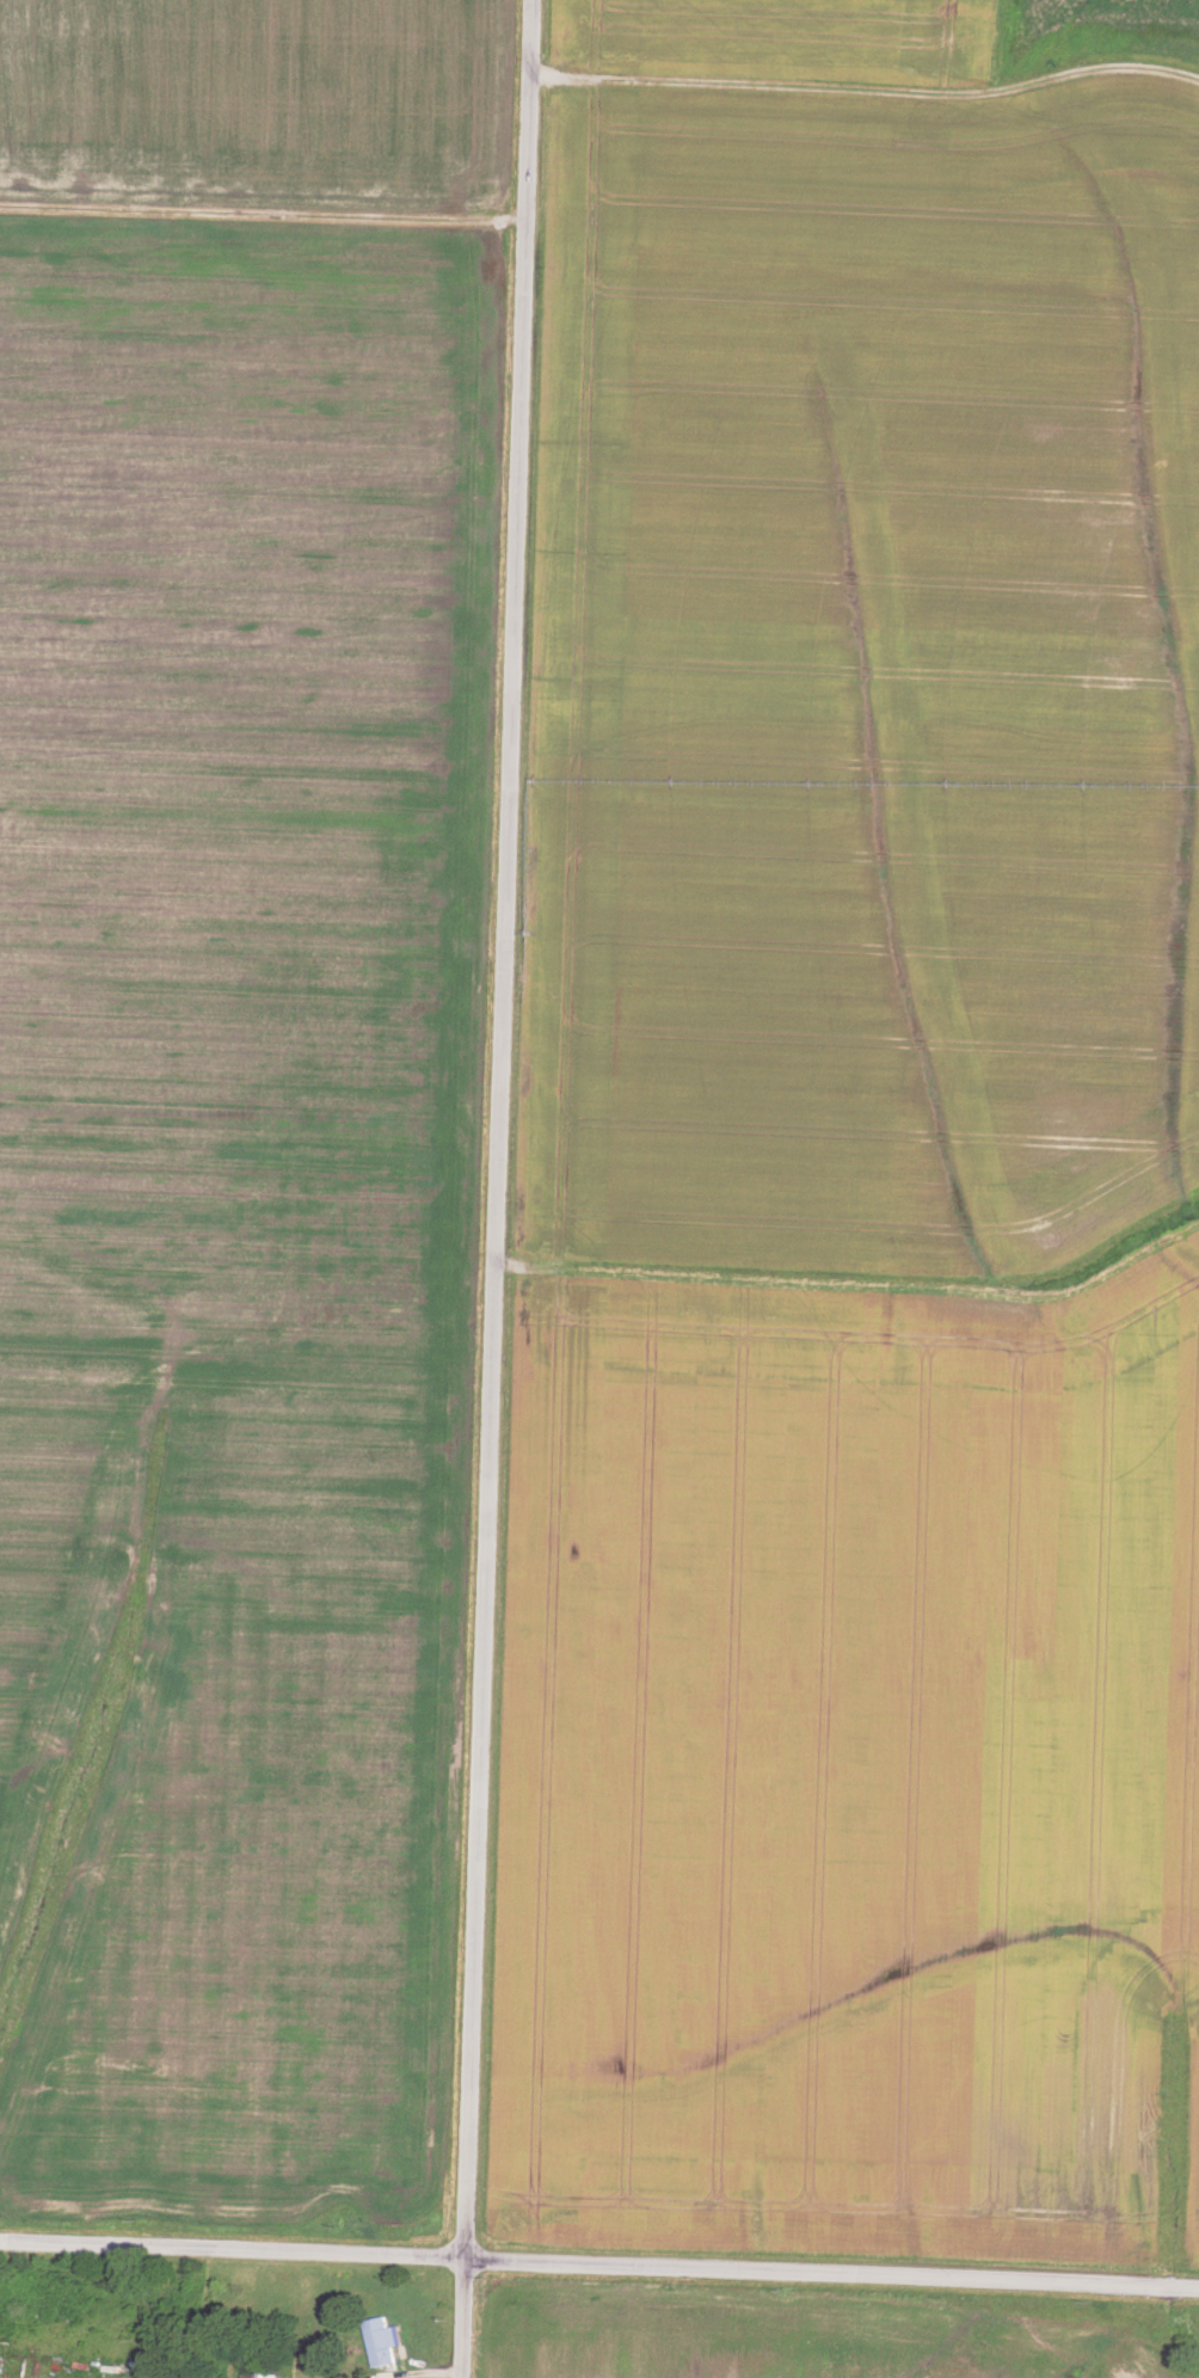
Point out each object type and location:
road: (863, 90)
road: (494, 1188)
road: (599, 2260)
road: (419, 2374)

